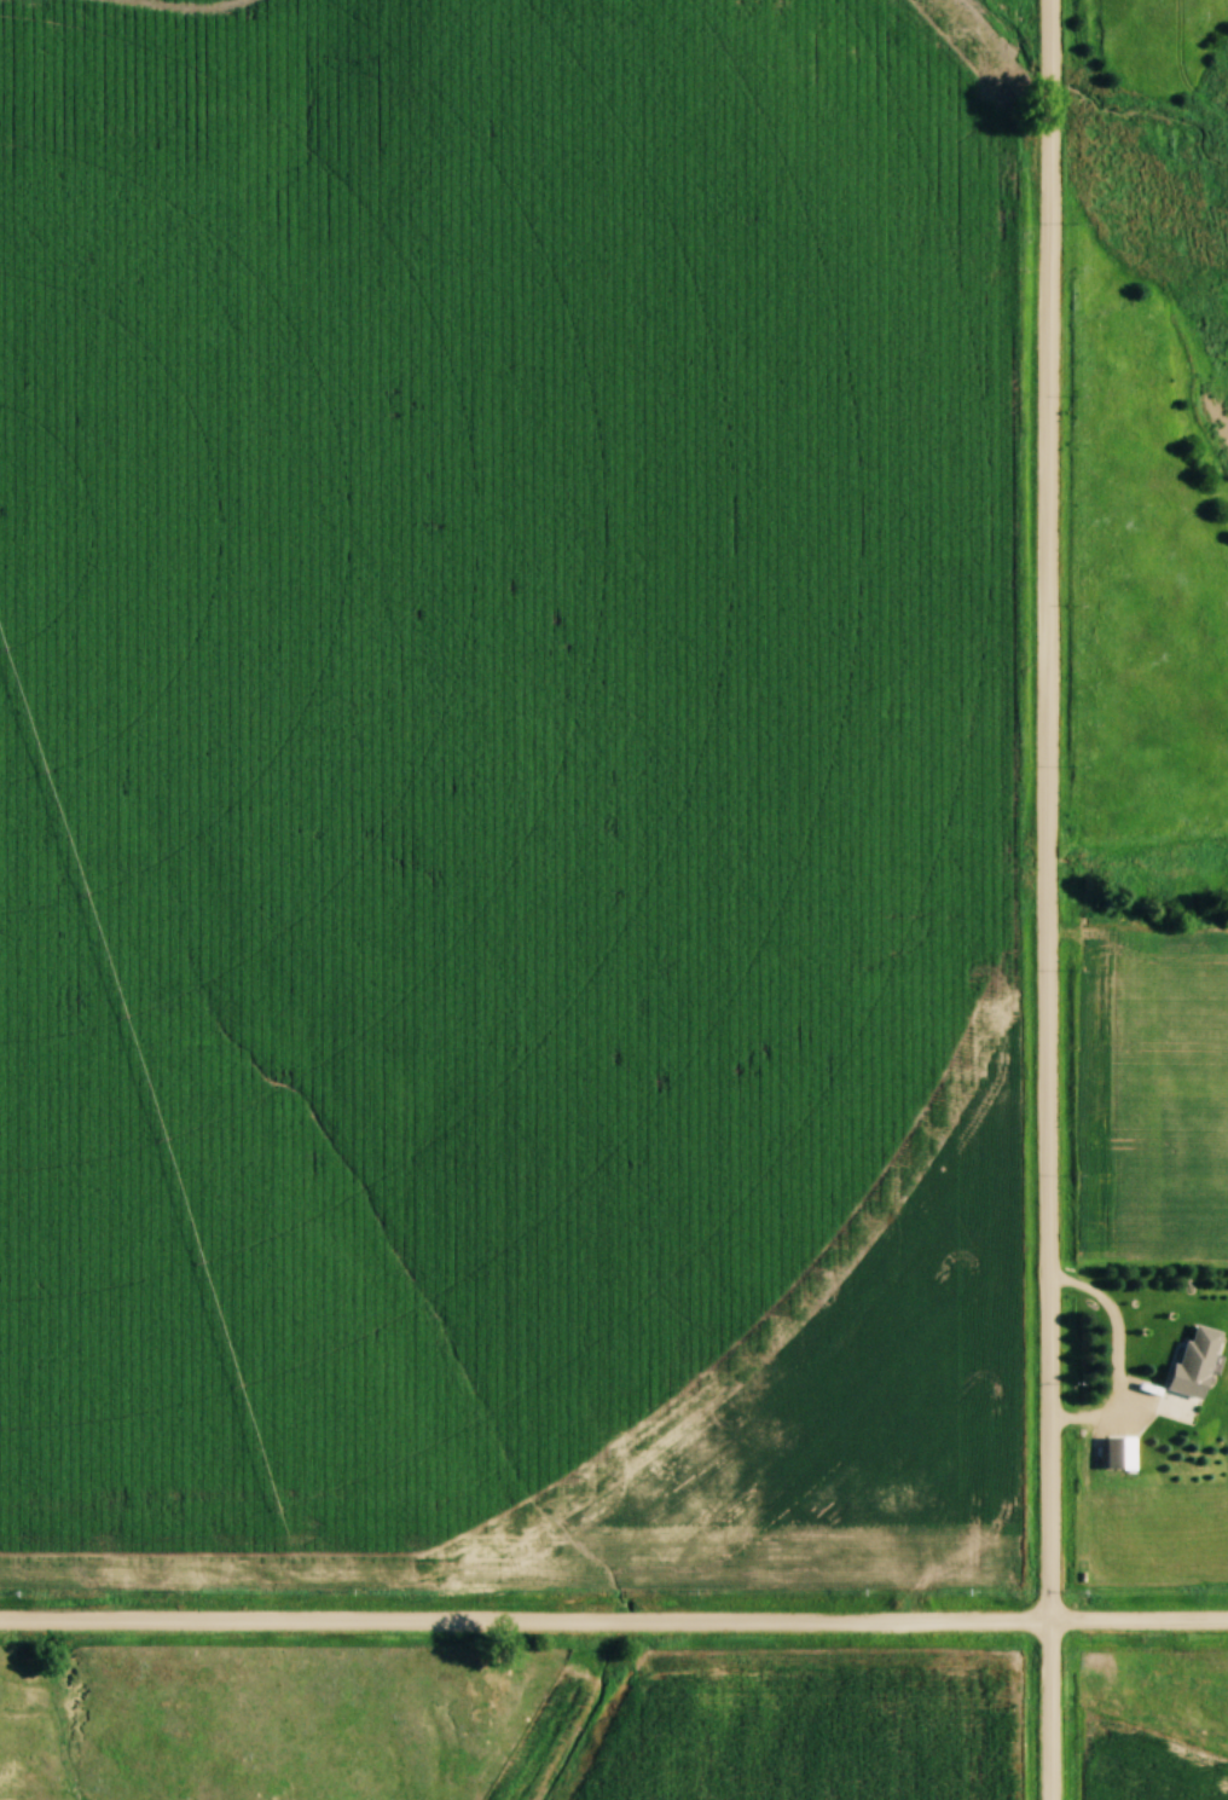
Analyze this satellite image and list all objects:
road: (1050, 899)
building: (1200, 1360)
road: (613, 1621)

